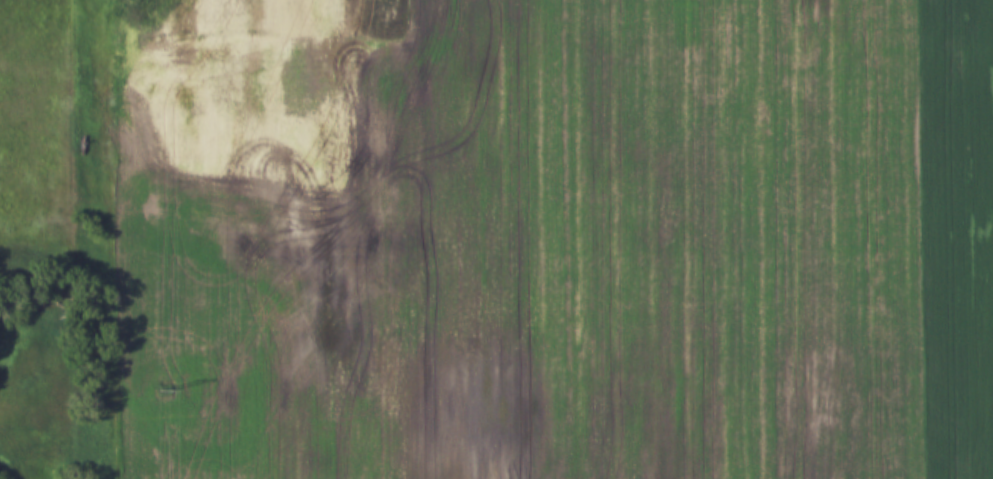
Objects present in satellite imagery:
power tower: (165, 387)

